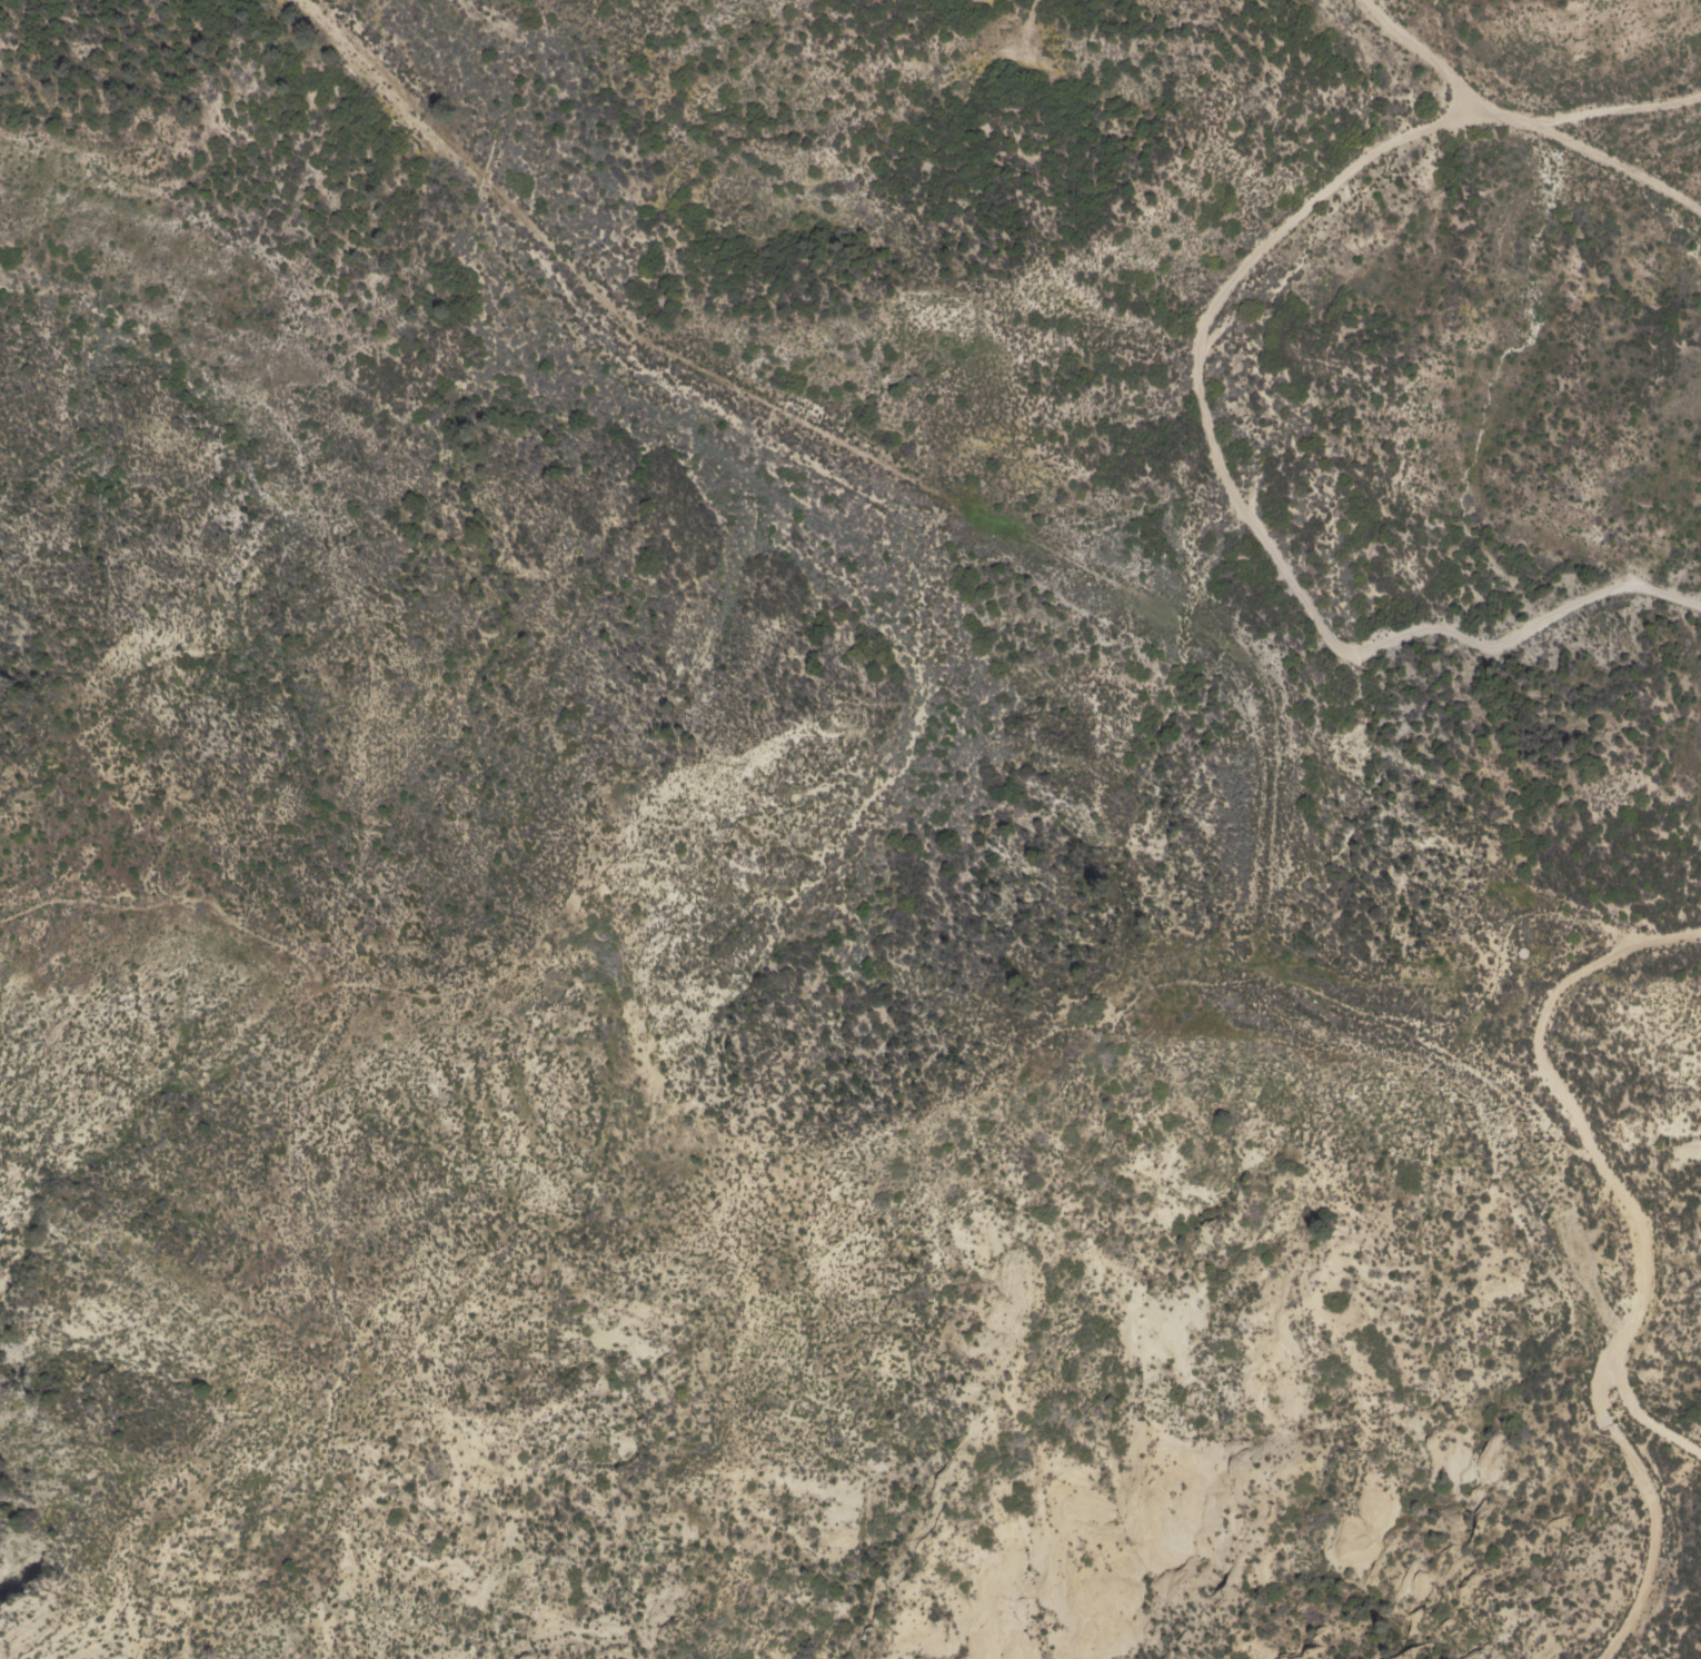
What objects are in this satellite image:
road: (1521, 123)

